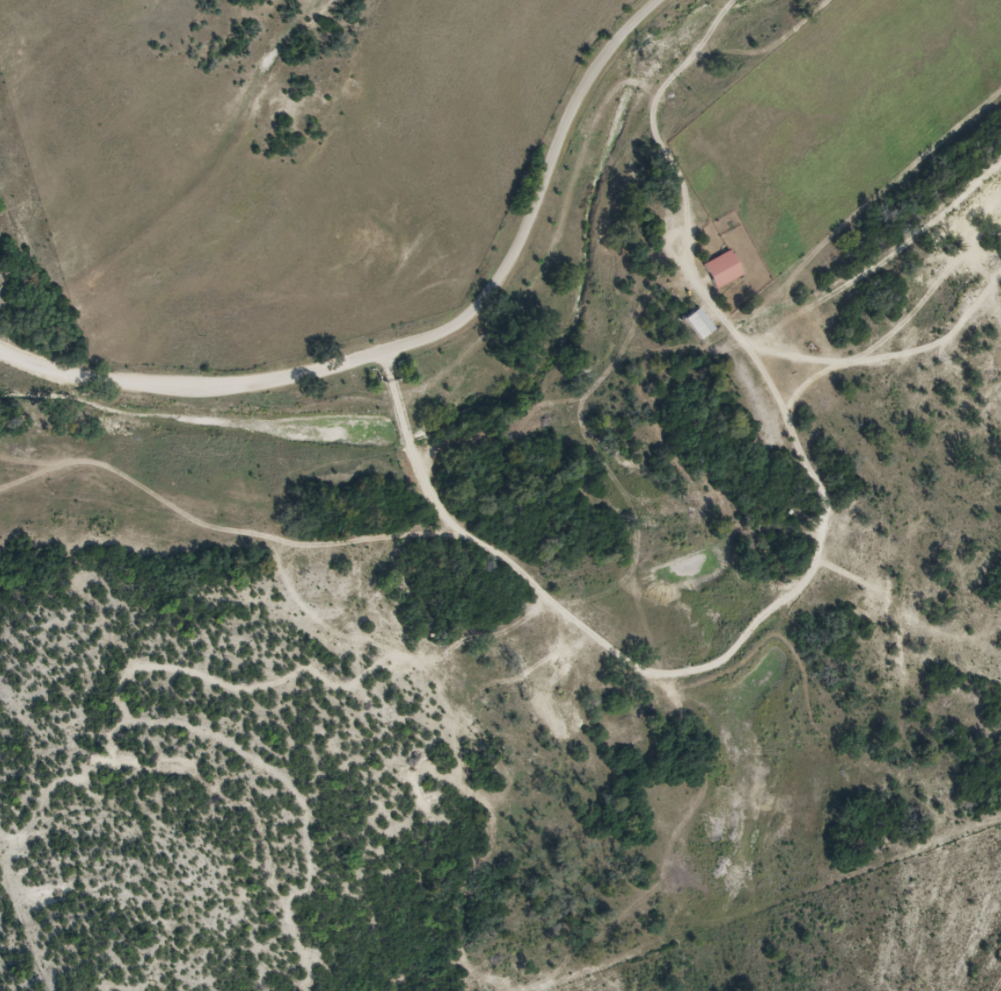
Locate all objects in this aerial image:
building: (727, 271)
building: (704, 326)
road: (422, 335)

